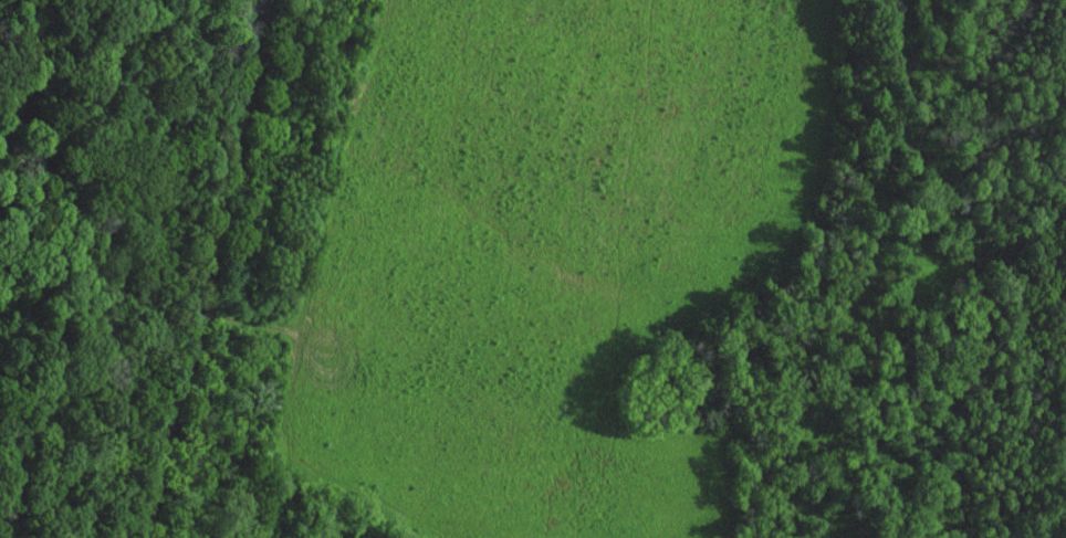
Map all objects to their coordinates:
road: (210, 270)

